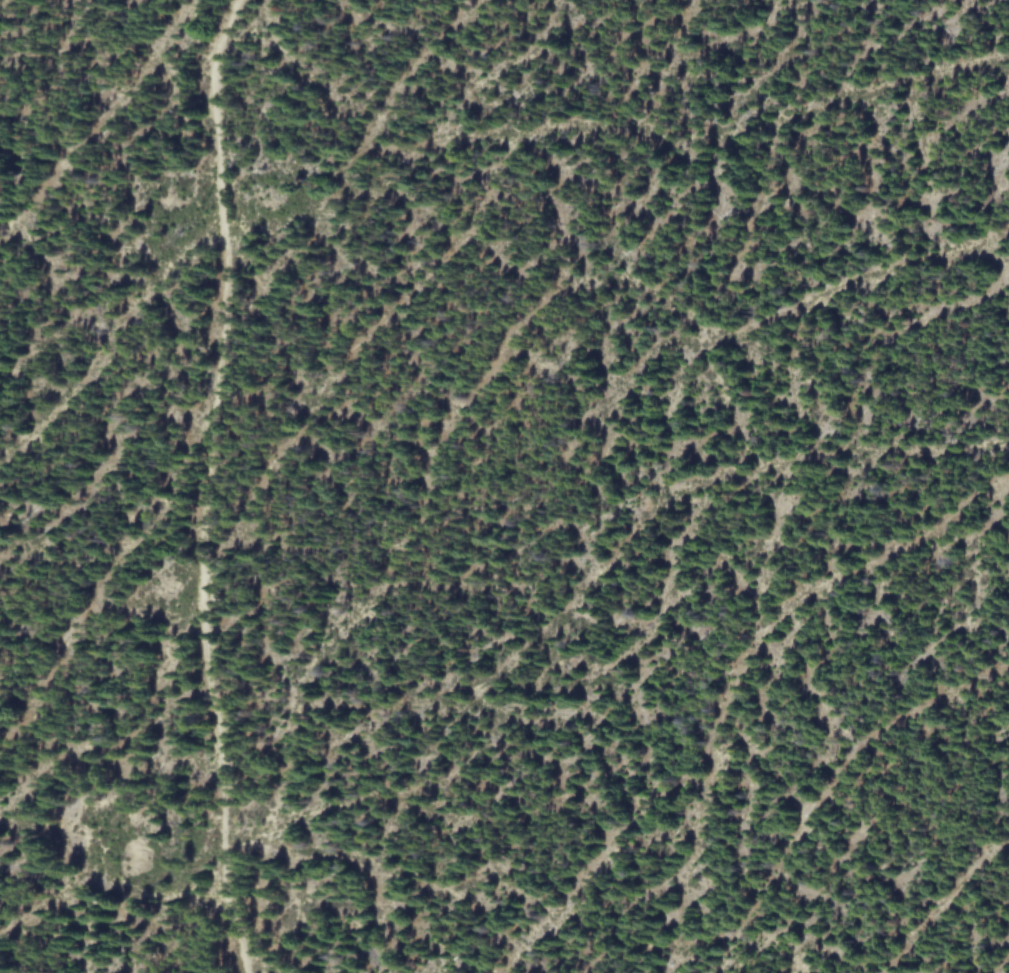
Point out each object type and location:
road: (207, 485)

